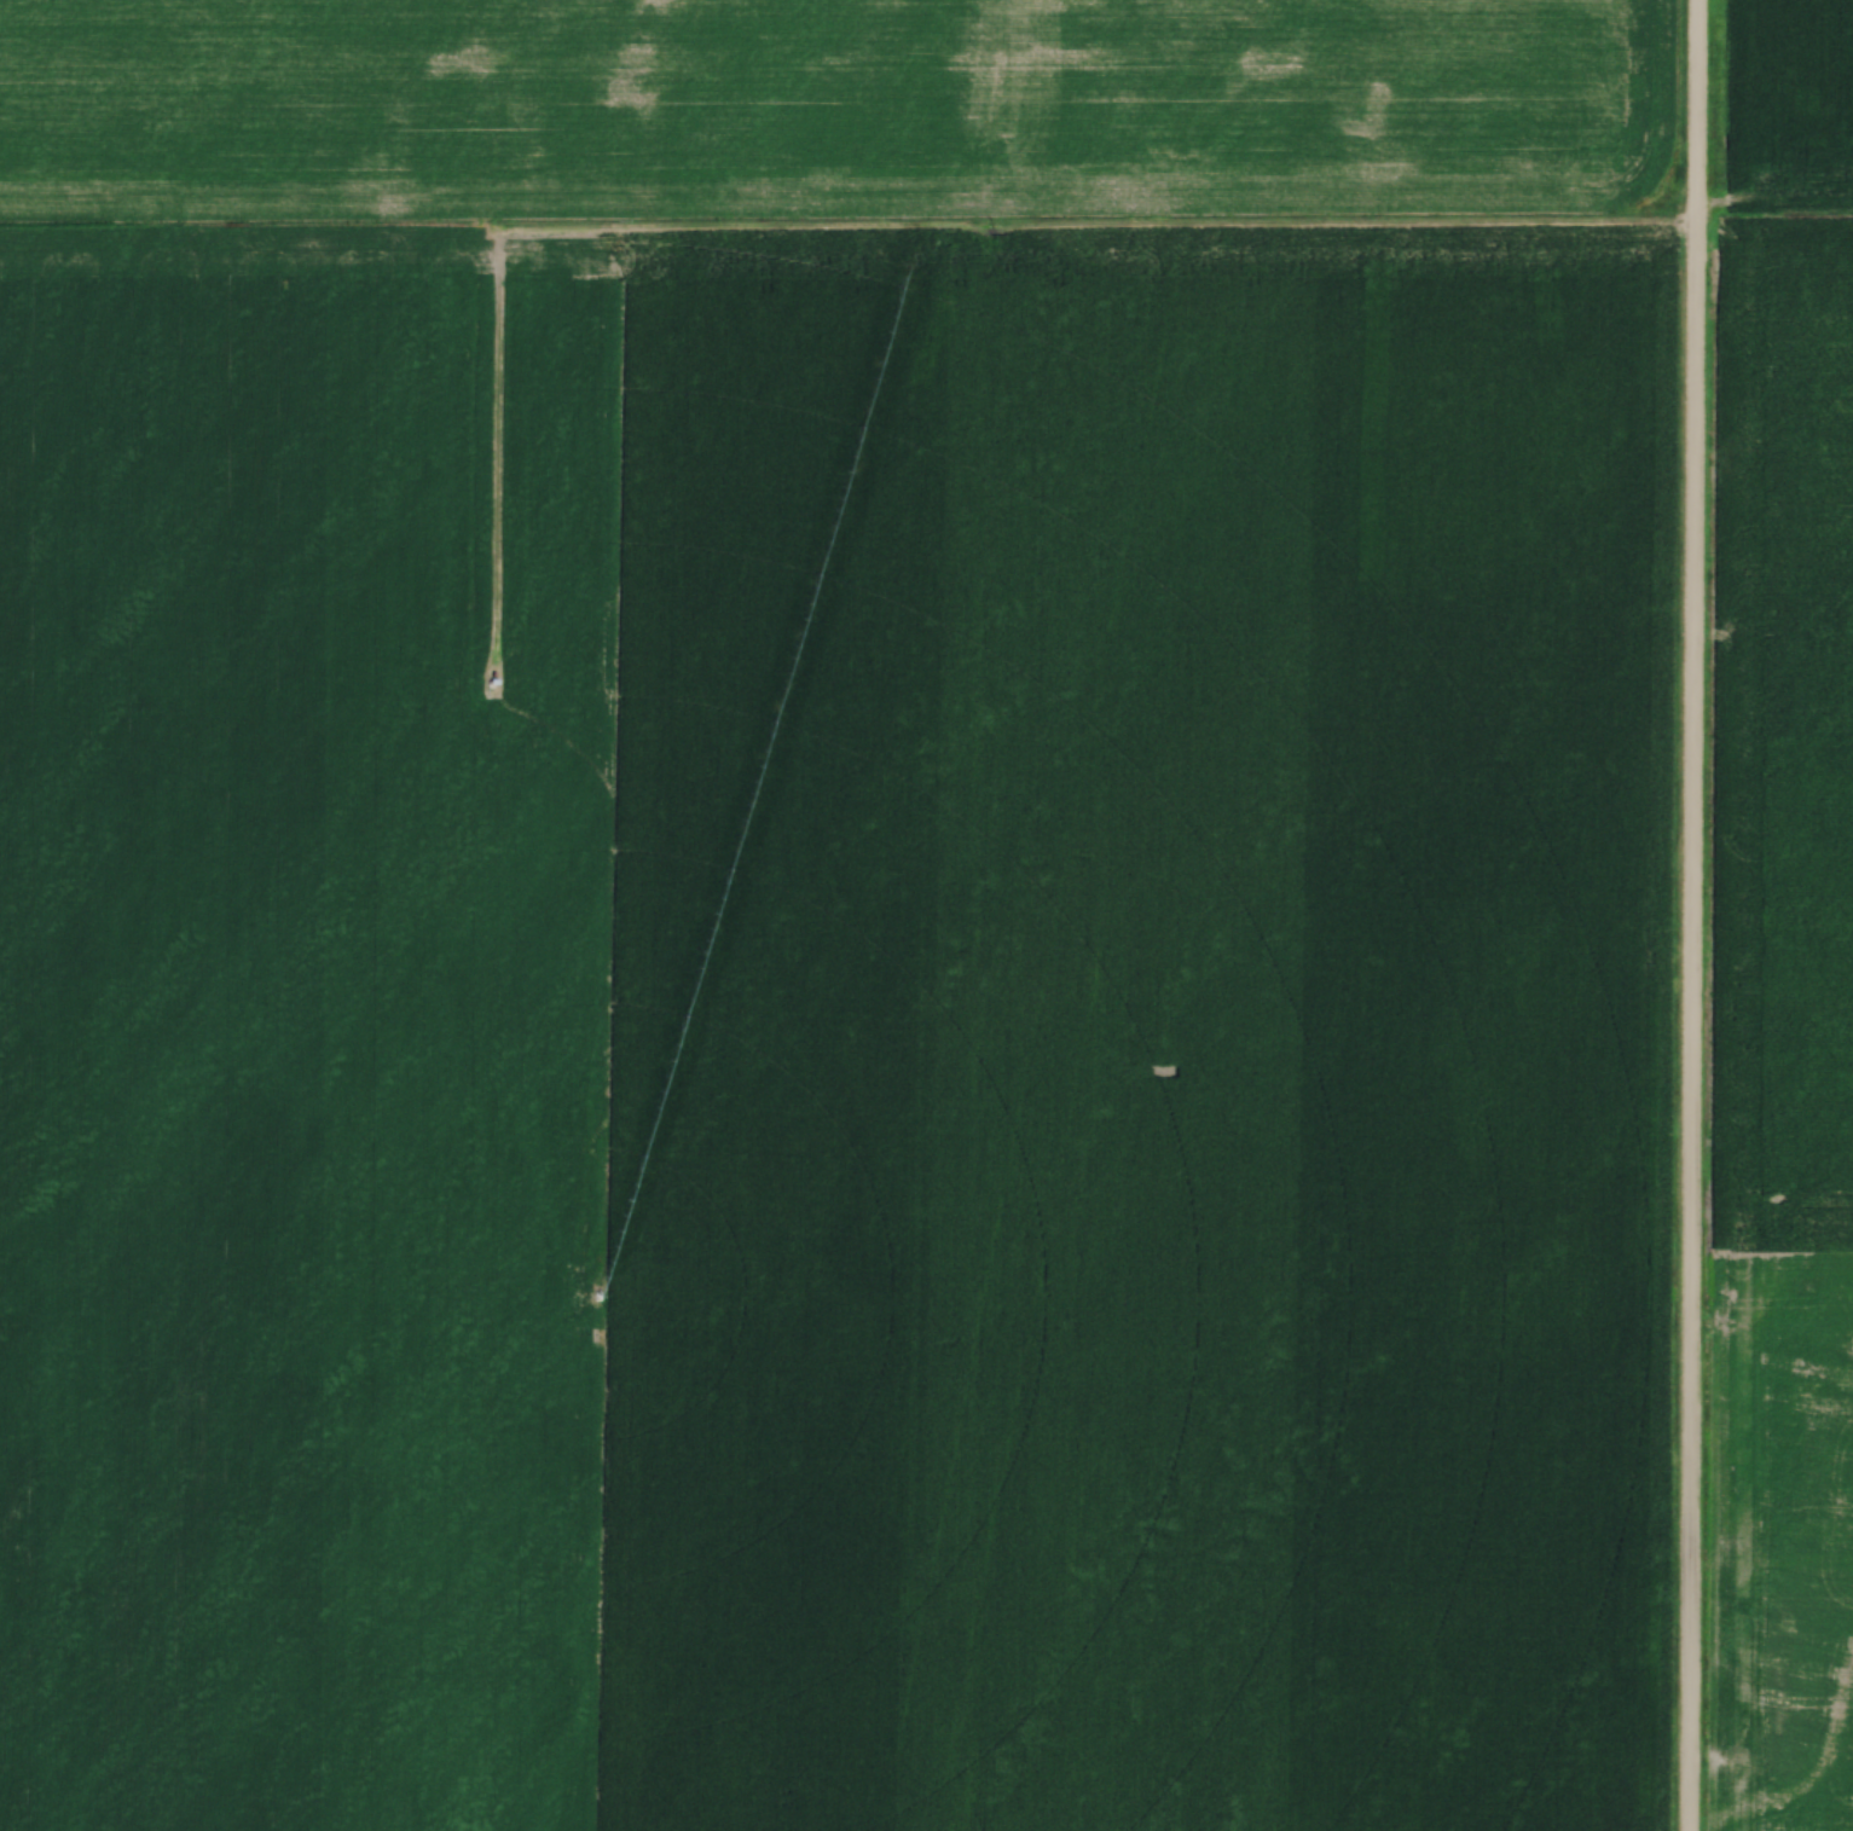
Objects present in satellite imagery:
road: (1689, 915)

